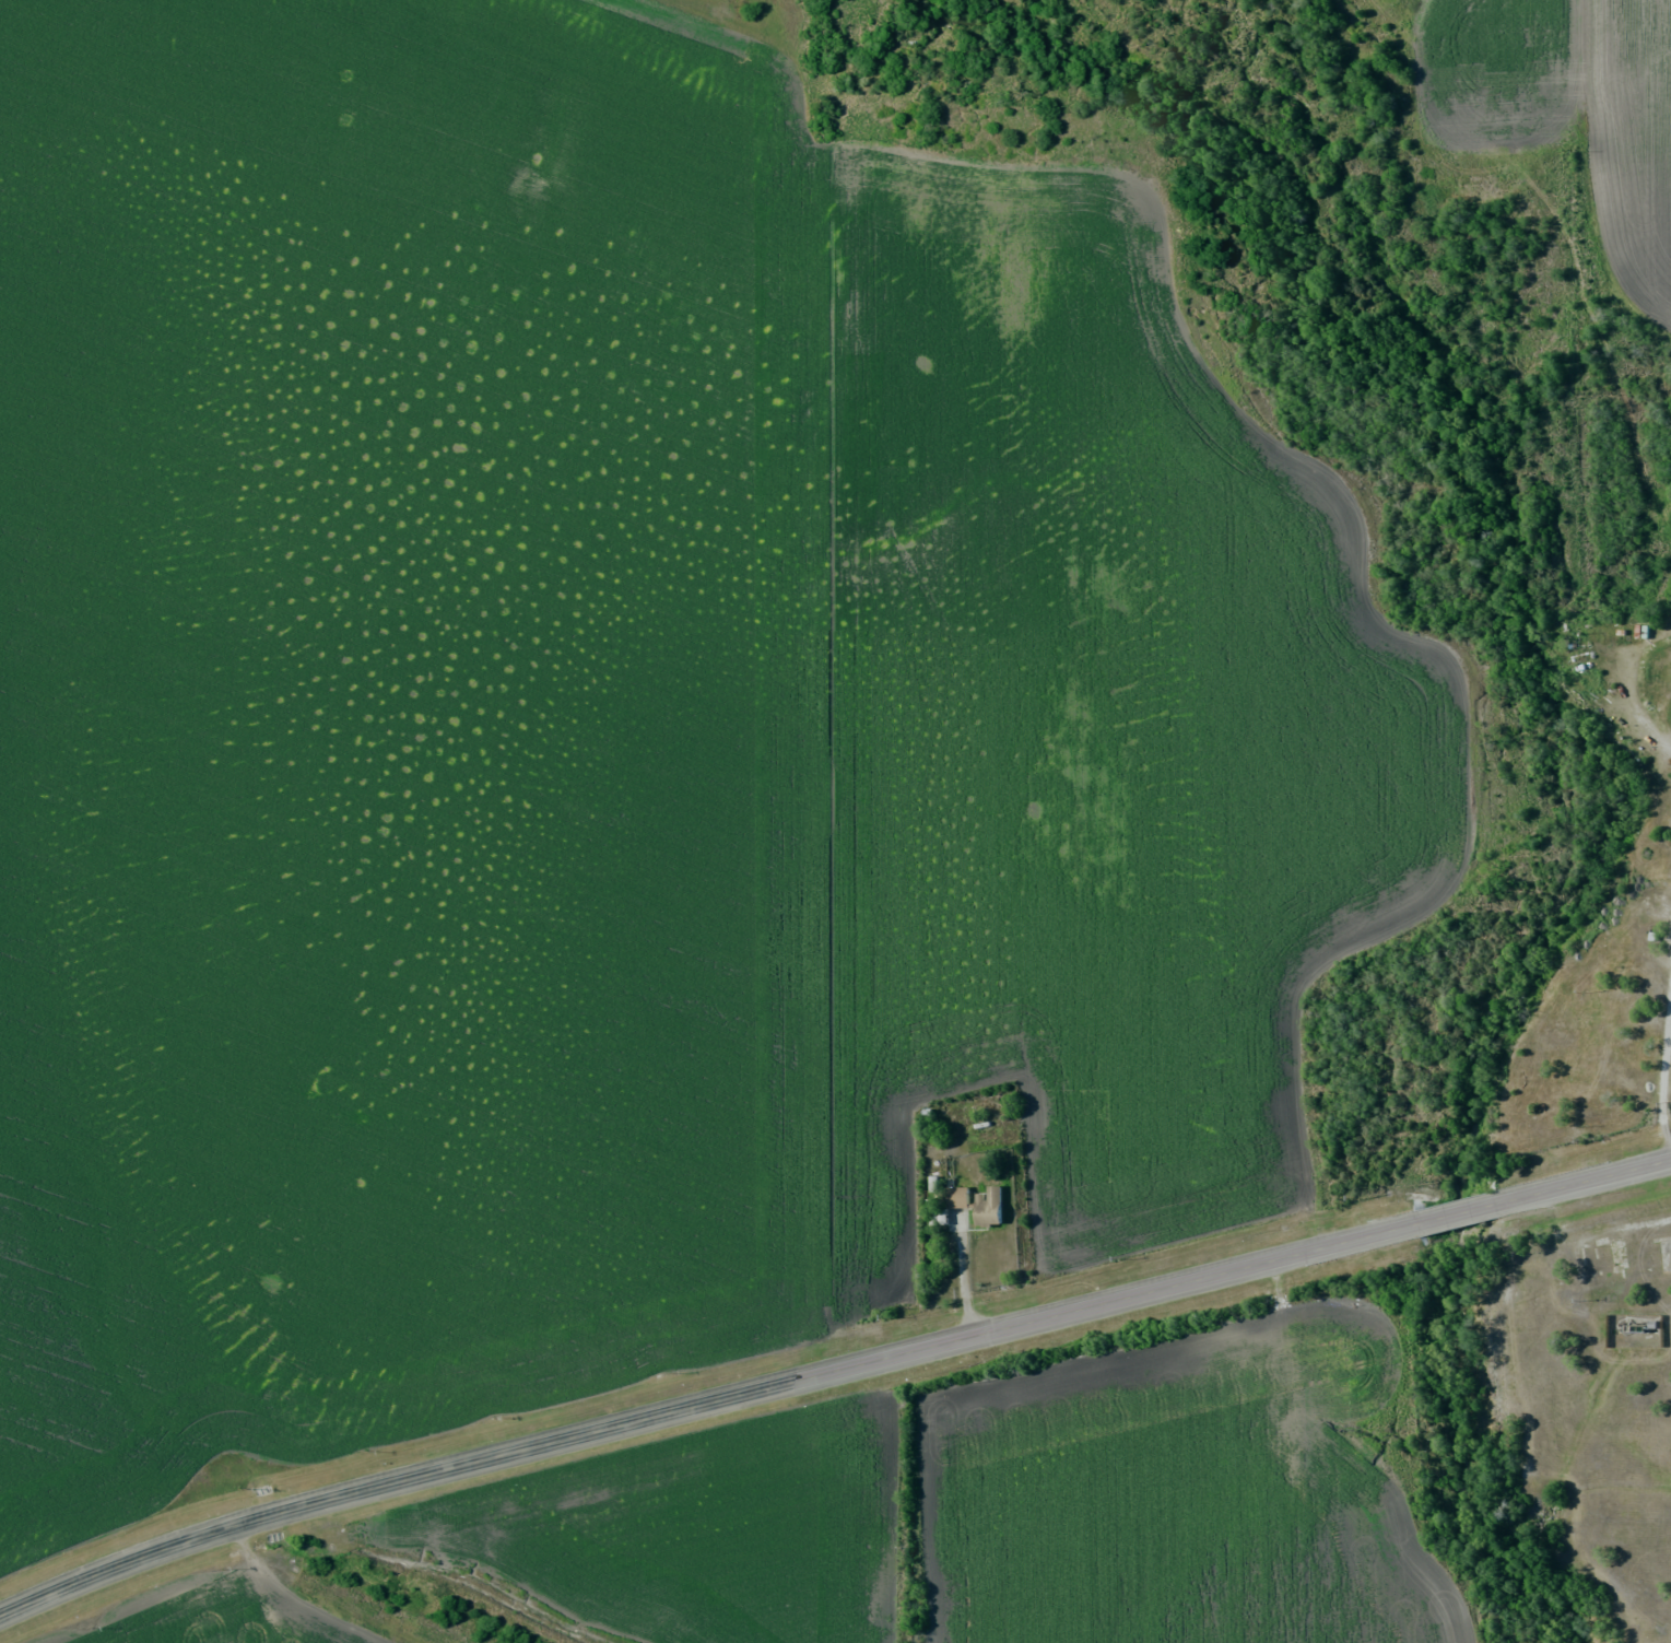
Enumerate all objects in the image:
road: (1581, 1177)
building: (958, 1197)
building: (991, 1209)
road: (1451, 1210)
building: (939, 1217)
road: (701, 1401)

